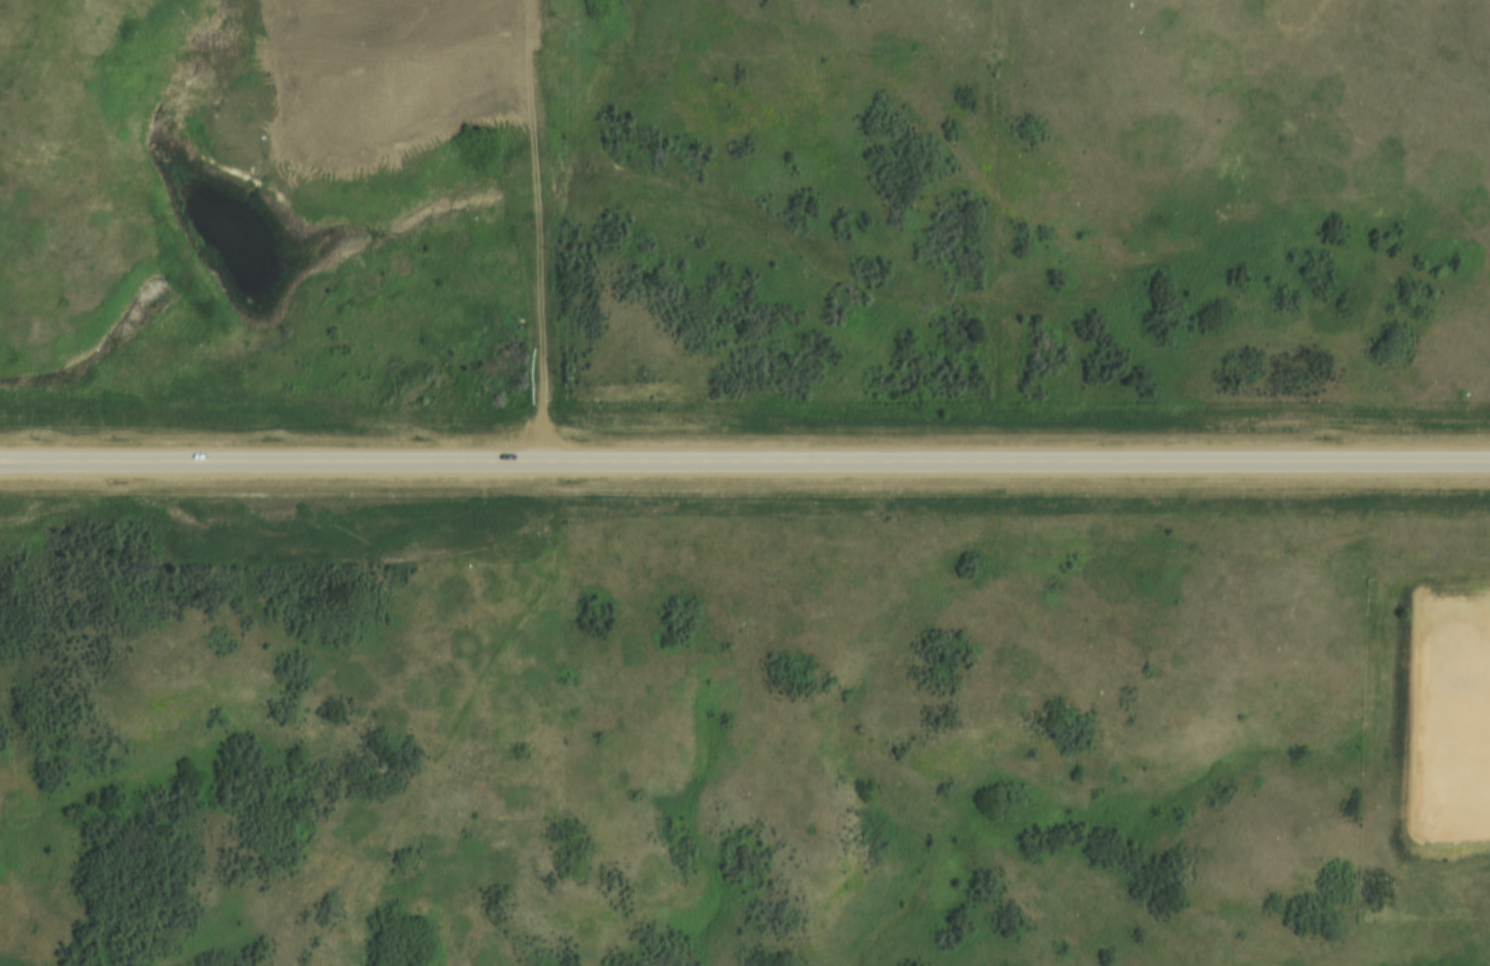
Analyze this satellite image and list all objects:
road: (744, 462)

